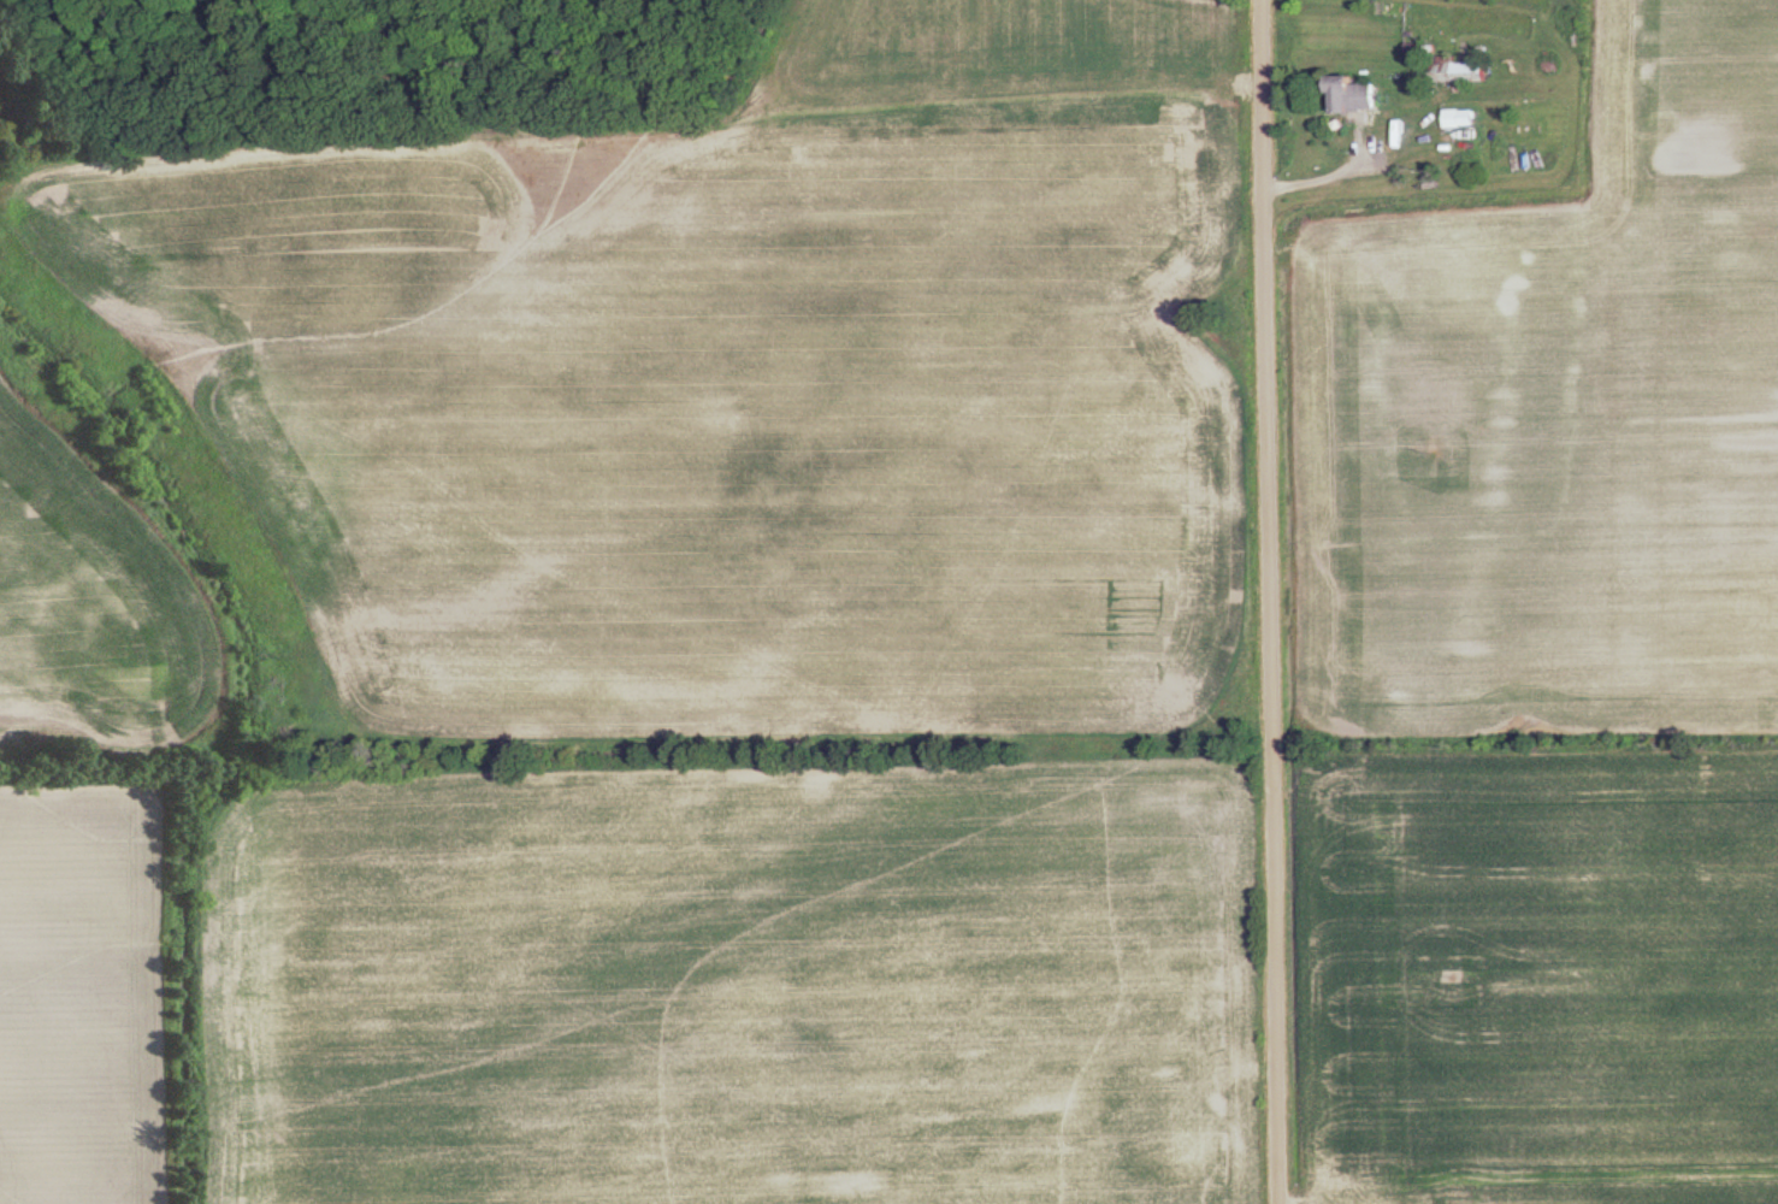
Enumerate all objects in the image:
building: (1354, 95)
building: (1454, 118)
road: (1330, 169)
road: (1271, 601)

